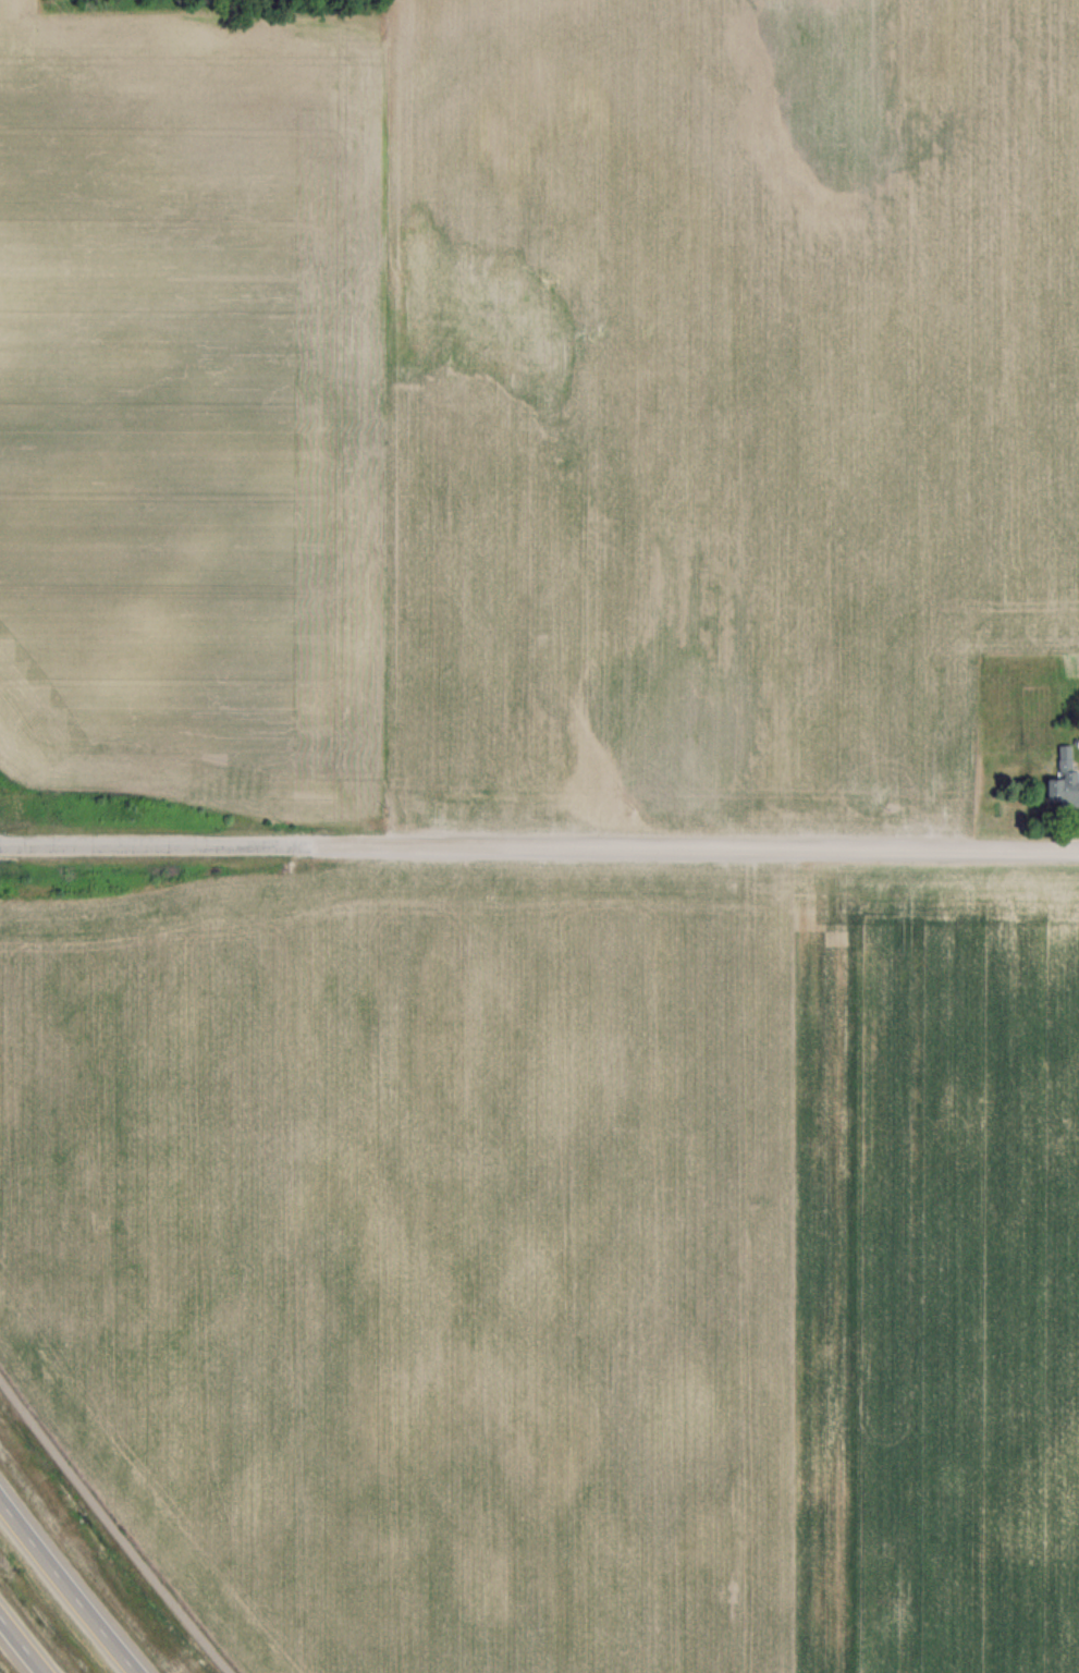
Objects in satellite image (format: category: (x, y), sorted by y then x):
building: (1063, 779)
road: (539, 847)
road: (112, 1527)
road: (69, 1584)
road: (22, 1645)

